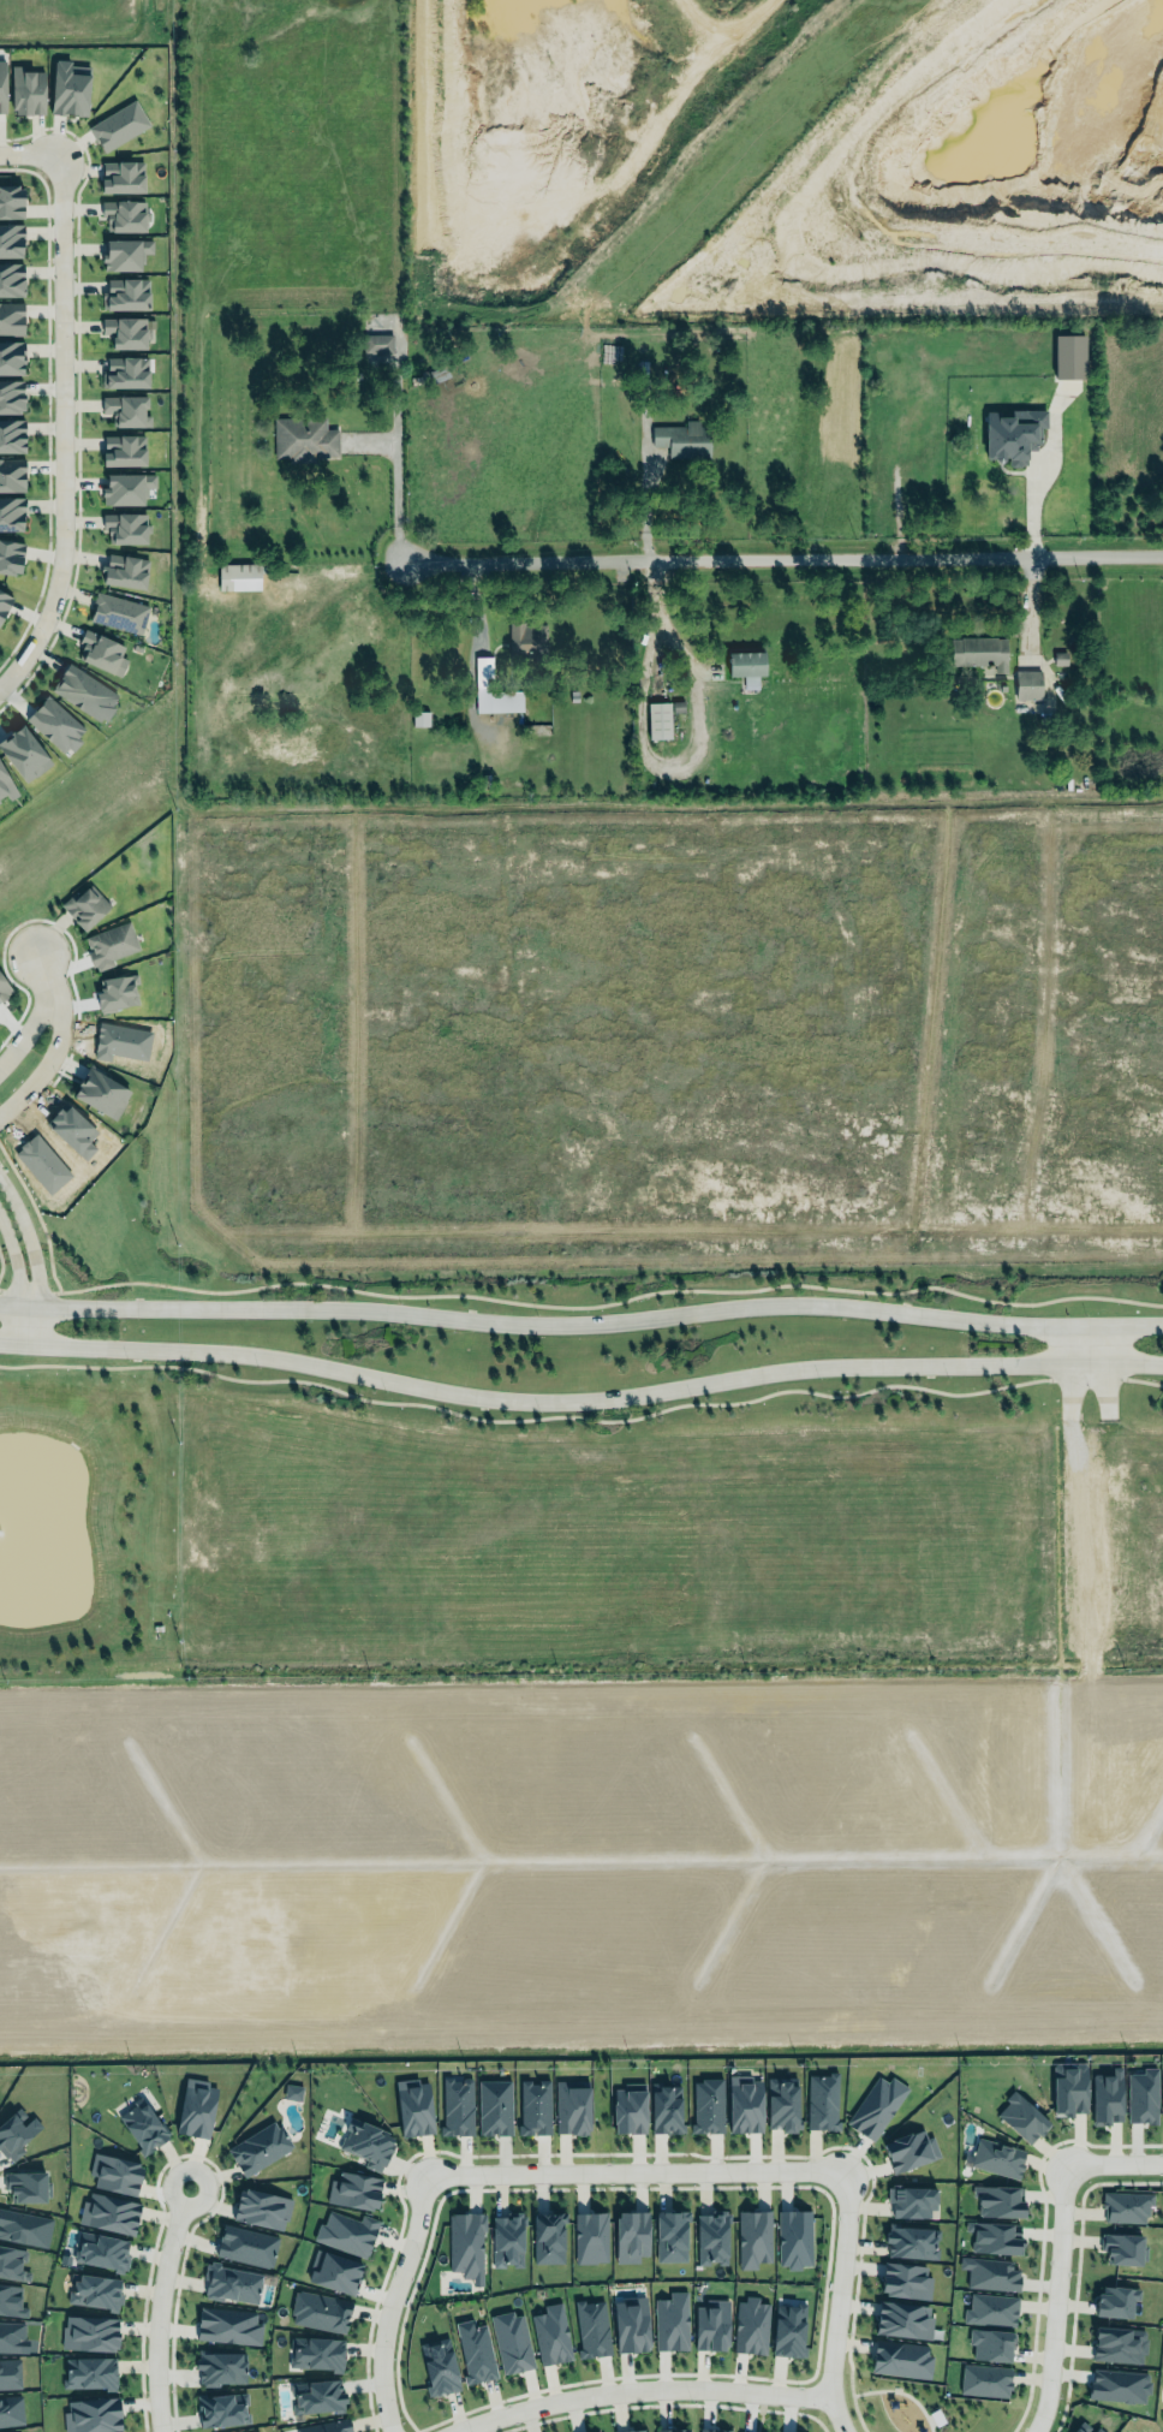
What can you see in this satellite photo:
building: (0, 91)
building: (67, 91)
building: (25, 94)
building: (113, 129)
road: (26, 151)
quarry: (781, 156)
building: (118, 178)
building: (10, 202)
building: (120, 219)
building: (11, 242)
building: (121, 257)
building: (10, 281)
building: (121, 297)
building: (10, 322)
building: (121, 334)
building: (377, 344)
building: (1068, 356)
building: (11, 359)
building: (119, 374)
road: (80, 388)
building: (10, 400)
road: (47, 404)
building: (120, 412)
road: (64, 427)
building: (1012, 435)
building: (11, 438)
building: (682, 438)
building: (304, 439)
building: (119, 453)
road: (395, 476)
building: (11, 477)
road: (1043, 478)
building: (123, 490)
building: (11, 517)
building: (121, 530)
road: (777, 548)
building: (10, 559)
building: (119, 576)
building: (238, 576)
building: (2, 605)
building: (114, 617)
building: (526, 638)
building: (978, 652)
building: (96, 653)
building: (746, 667)
building: (1027, 684)
building: (491, 690)
building: (80, 695)
building: (419, 718)
building: (658, 720)
building: (49, 727)
road: (639, 749)
building: (23, 753)
building: (5, 789)
building: (82, 910)
building: (108, 947)
road: (42, 965)
building: (2, 993)
building: (113, 997)
road: (29, 1025)
road: (43, 1047)
building: (99, 1094)
road: (36, 1215)
road: (35, 1247)
road: (0, 1263)
road: (16, 1271)
road: (30, 1294)
road: (612, 1302)
road: (581, 1320)
road: (1103, 1369)
road: (1083, 1378)
road: (1141, 1381)
road: (1068, 1390)
road: (580, 1398)
road: (523, 1419)
building: (1069, 2088)
building: (292, 2092)
building: (1141, 2097)
building: (1162, 2097)
building: (819, 2098)
building: (1105, 2098)
building: (781, 2100)
building: (742, 2103)
building: (706, 2105)
building: (195, 2106)
building: (412, 2106)
building: (457, 2106)
building: (494, 2106)
building: (533, 2106)
building: (572, 2106)
building: (876, 2106)
building: (628, 2107)
building: (666, 2107)
building: (1020, 2115)
building: (141, 2121)
building: (14, 2134)
building: (368, 2142)
building: (256, 2146)
building: (907, 2147)
building: (997, 2158)
road: (1113, 2162)
road: (636, 2172)
building: (114, 2174)
building: (25, 2186)
building: (354, 2189)
building: (997, 2198)
building: (911, 2201)
building: (1123, 2205)
building: (262, 2206)
building: (108, 2211)
building: (23, 2225)
building: (345, 2231)
building: (669, 2232)
building: (991, 2234)
building: (631, 2236)
building: (548, 2237)
building: (591, 2237)
building: (711, 2237)
building: (753, 2237)
building: (794, 2238)
building: (507, 2241)
building: (909, 2242)
building: (464, 2243)
building: (246, 2246)
building: (1122, 2248)
building: (101, 2250)
building: (12, 2261)
building: (335, 2269)
building: (988, 2272)
building: (905, 2278)
building: (229, 2281)
building: (95, 2290)
building: (11, 2297)
road: (1055, 2299)
building: (1116, 2301)
road: (390, 2302)
road: (837, 2302)
road: (157, 2307)
building: (990, 2308)
building: (320, 2312)
building: (901, 2317)
building: (630, 2321)
building: (672, 2321)
building: (227, 2323)
building: (709, 2323)
building: (589, 2326)
building: (751, 2326)
building: (791, 2330)
building: (550, 2332)
building: (89, 2333)
building: (10, 2335)
building: (512, 2342)
building: (989, 2342)
building: (1116, 2343)
building: (472, 2349)
building: (316, 2353)
building: (900, 2359)
building: (217, 2363)
building: (439, 2366)
building: (89, 2372)
building: (10, 2373)
building: (984, 2380)
building: (1119, 2385)
road: (639, 2390)
building: (316, 2396)
building: (221, 2409)
building: (11, 2410)
building: (90, 2414)
building: (327, 2426)
building: (712, 2428)
building: (672, 2430)
building: (1078, 2430)
building: (1098, 2430)
building: (18, 2431)
building: (633, 2431)

